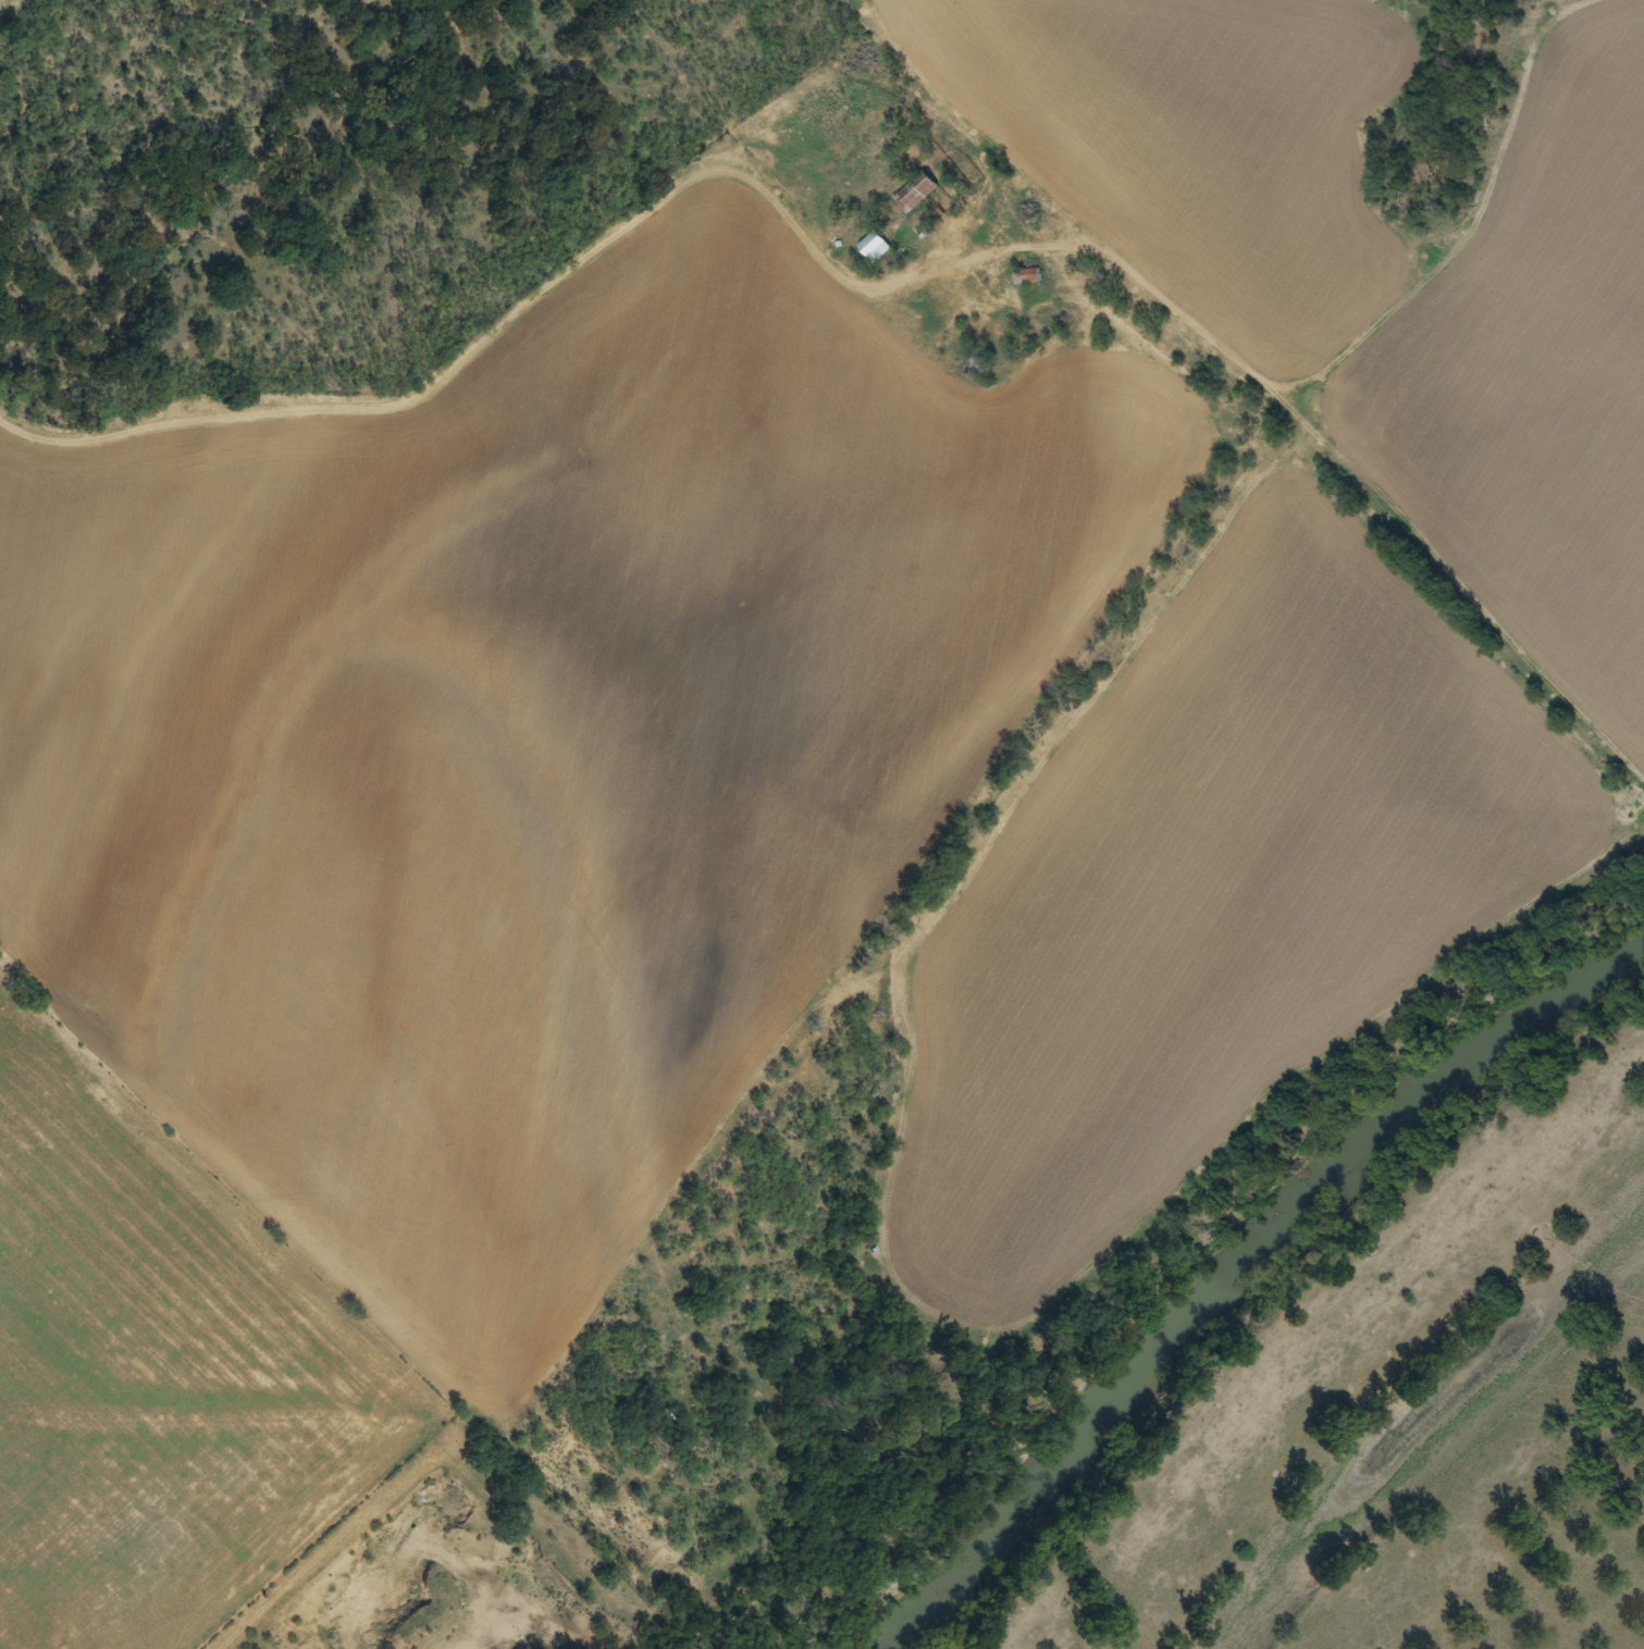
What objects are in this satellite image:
building: (911, 193)
building: (869, 248)
building: (1022, 277)
road: (507, 395)
river: (1247, 1278)

